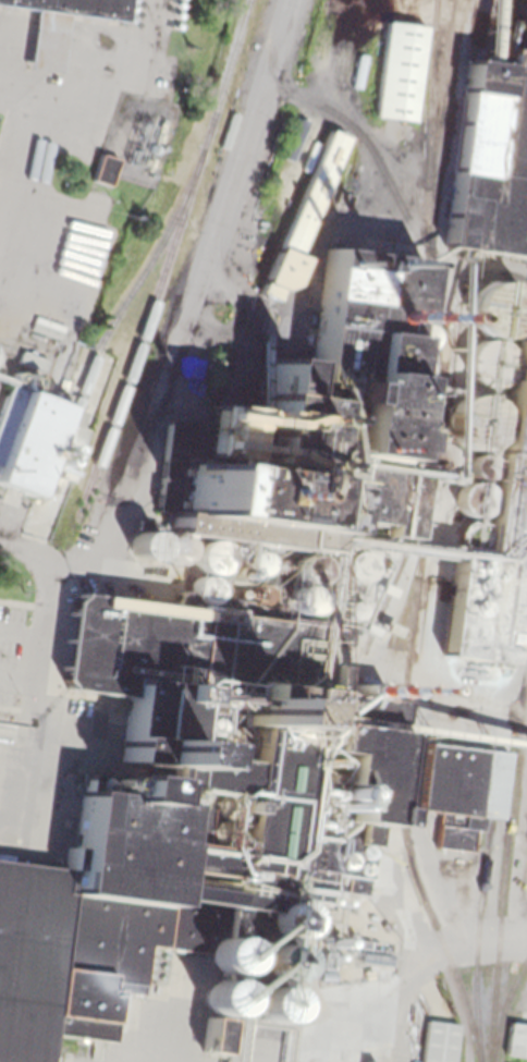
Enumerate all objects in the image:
building: (497, 12)
building: (61, 25)
building: (401, 70)
railway: (442, 88)
railway: (312, 118)
building: (279, 123)
building: (161, 130)
building: (155, 147)
railway: (290, 150)
building: (491, 158)
building: (150, 162)
building: (106, 168)
building: (154, 174)
building: (303, 217)
railway: (169, 253)
railway: (137, 282)
building: (34, 358)
building: (3, 361)
building: (193, 370)
road: (140, 411)
building: (41, 441)
railway: (425, 536)
road: (25, 544)
building: (494, 545)
building: (390, 564)
building: (307, 586)
building: (385, 588)
building: (391, 627)
building: (368, 628)
building: (233, 703)
railway: (495, 727)
building: (463, 790)
building: (412, 867)
railway: (503, 886)
building: (372, 916)
building: (366, 942)
building: (376, 956)
building: (369, 974)
building: (440, 980)
building: (444, 988)
railway: (504, 1009)
building: (517, 1038)
building: (439, 1041)
building: (370, 1061)

